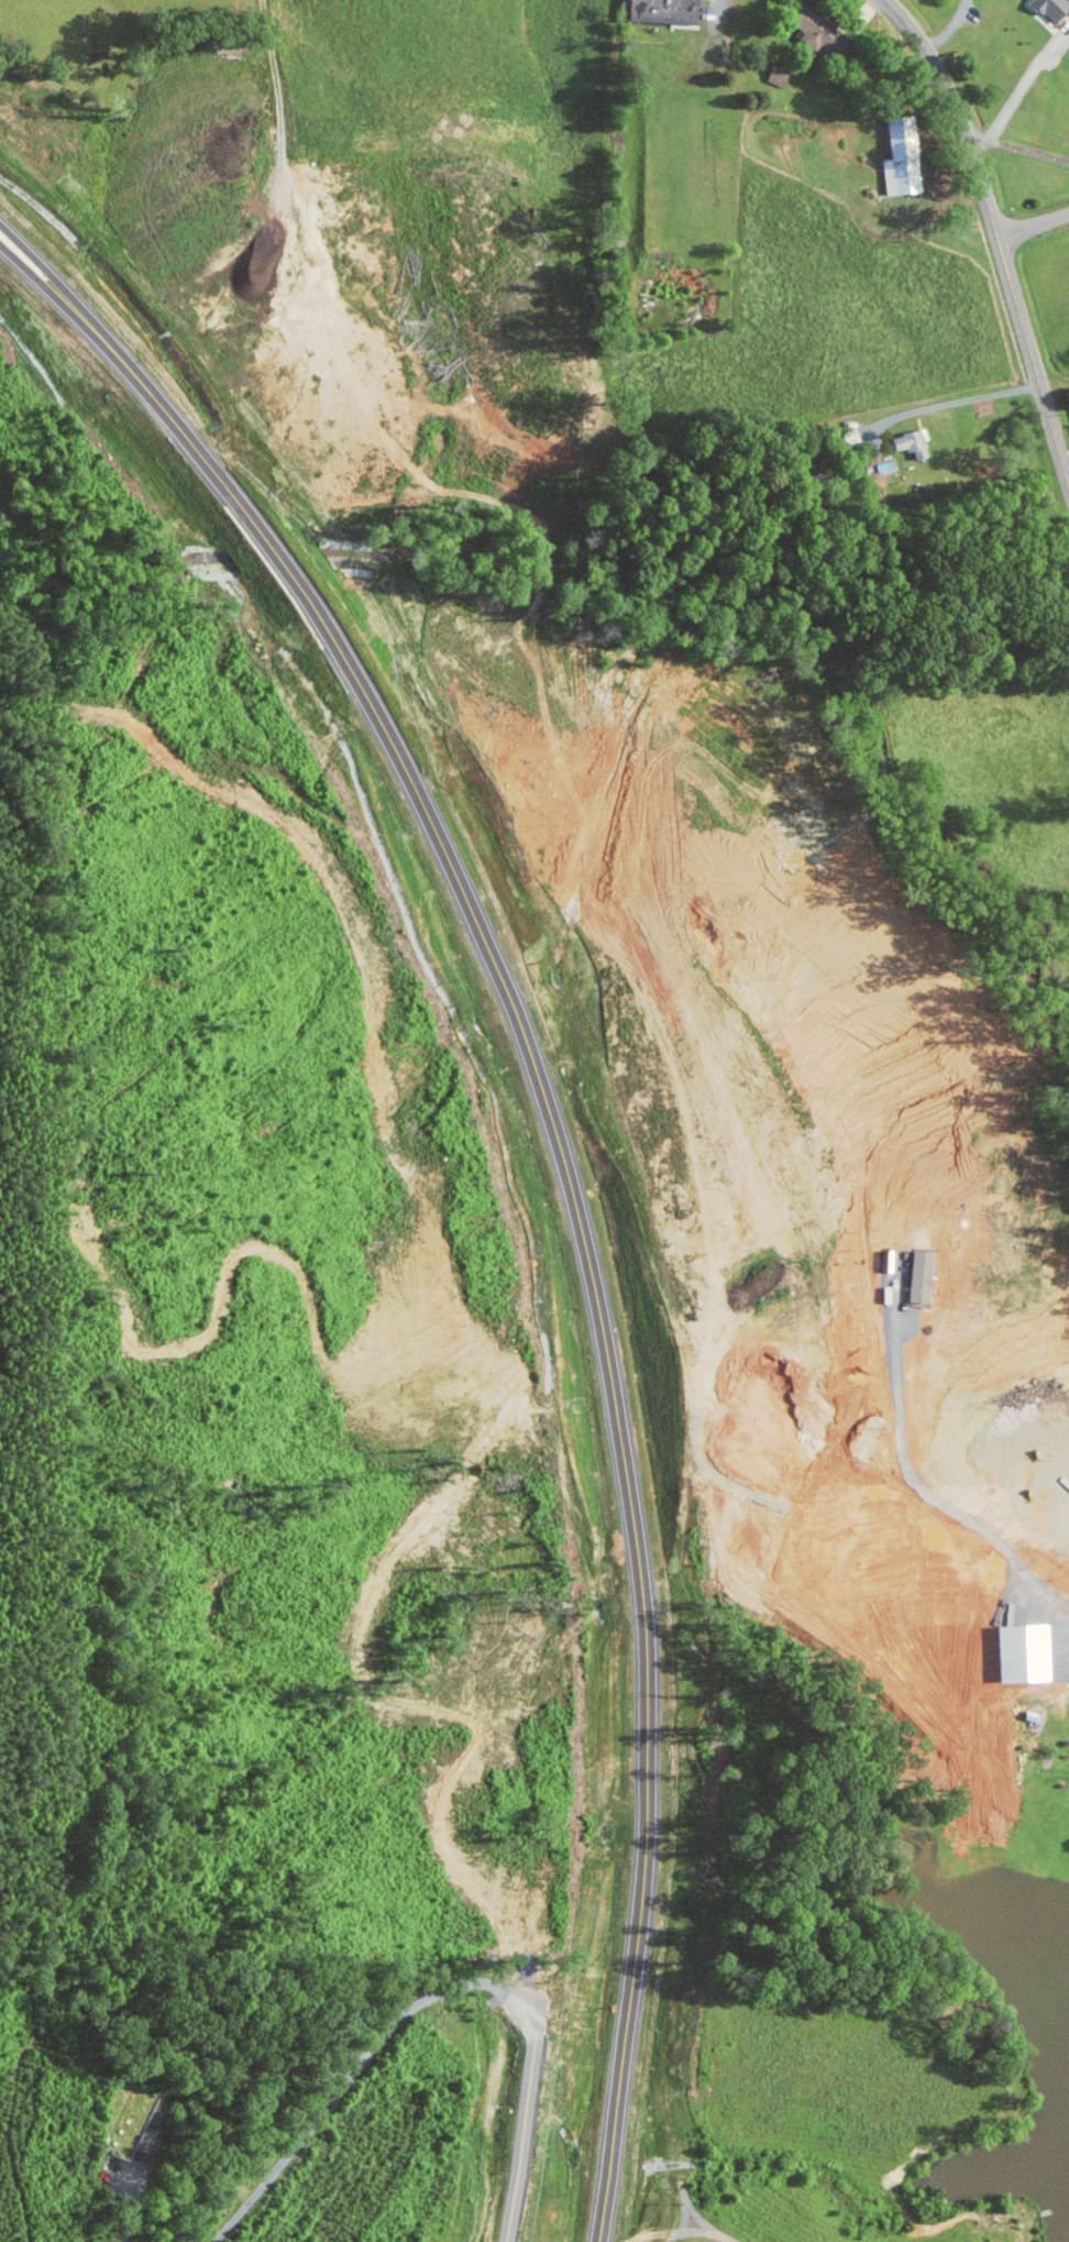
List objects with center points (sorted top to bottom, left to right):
building: (1048, 9)
building: (674, 10)
road: (1018, 91)
building: (897, 156)
road: (1033, 226)
road: (995, 233)
road: (34, 257)
road: (30, 272)
road: (954, 403)
building: (907, 442)
road: (1065, 458)
road: (577, 1200)
building: (1016, 1653)
road: (352, 2074)
road: (521, 2122)
road: (130, 2221)

